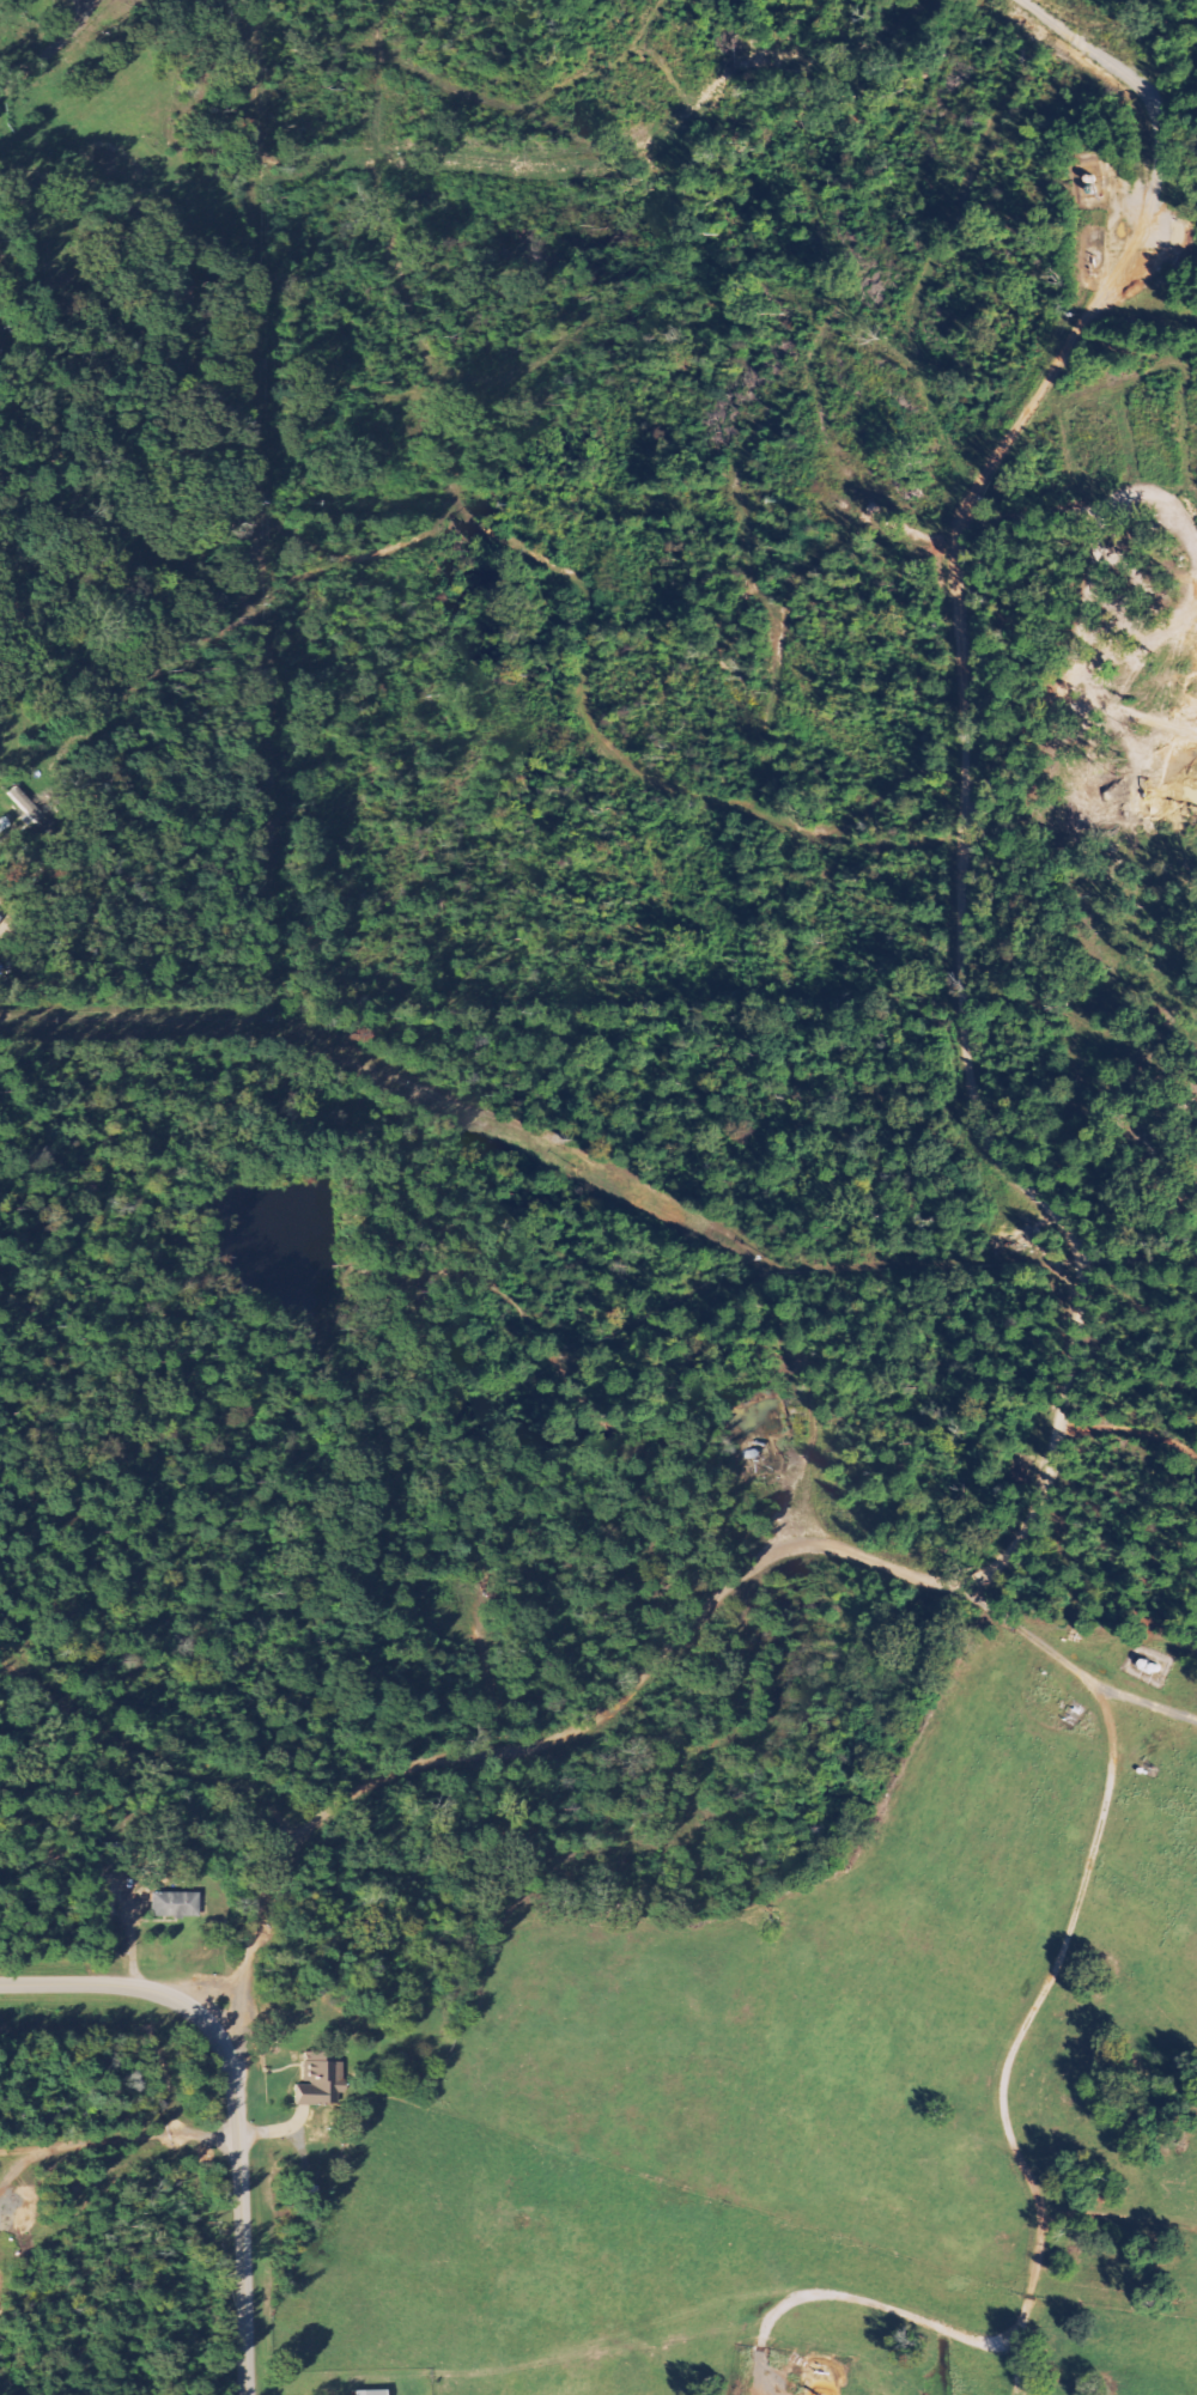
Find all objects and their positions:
road: (51, 54)
building: (4, 828)
road: (962, 908)
building: (0, 918)
road: (646, 1672)
building: (177, 1905)
building: (321, 2080)
road: (233, 2097)
road: (119, 2140)
road: (1022, 2163)

